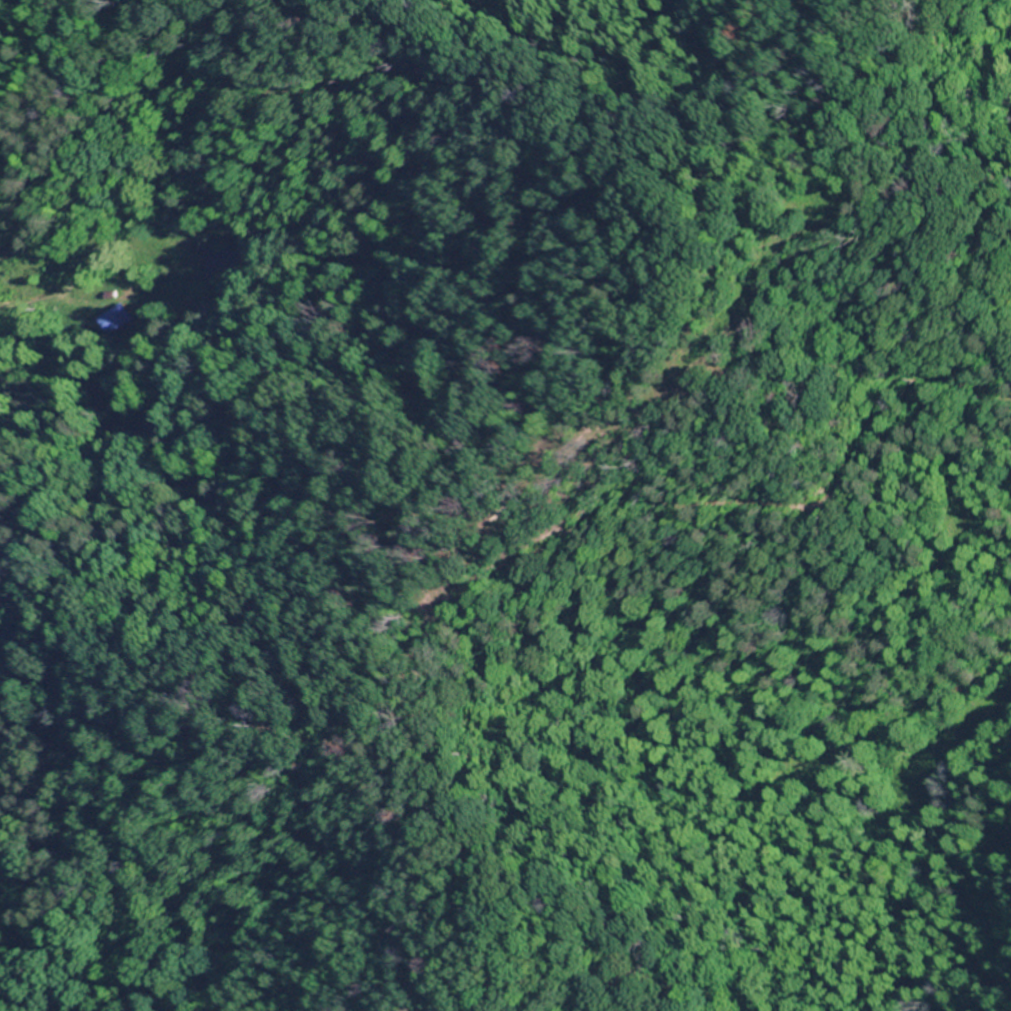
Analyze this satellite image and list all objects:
building: (109, 319)
building: (152, 427)

